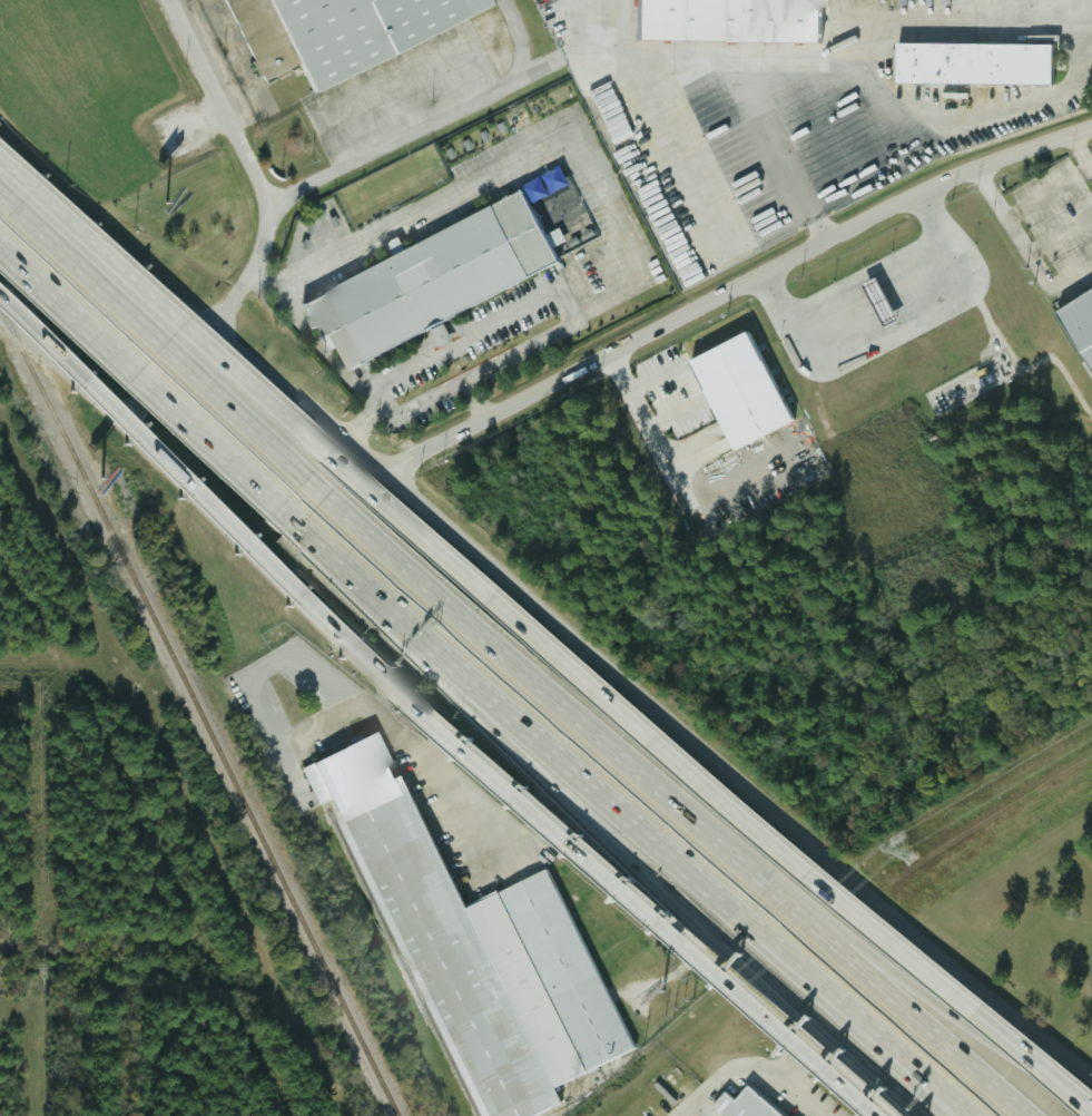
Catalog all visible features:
building: (938, 2)
road: (1082, 17)
building: (722, 20)
road: (609, 26)
building: (355, 30)
road: (517, 39)
building: (1091, 51)
road: (720, 52)
building: (971, 62)
road: (1051, 96)
road: (412, 130)
road: (779, 147)
road: (678, 154)
road: (1079, 154)
road: (1010, 215)
road: (264, 218)
parking lot: (1054, 225)
road: (1059, 234)
road: (1071, 276)
road: (267, 277)
building: (427, 281)
road: (731, 287)
road: (187, 301)
road: (892, 327)
building: (1076, 329)
road: (472, 331)
road: (153, 336)
road: (65, 361)
road: (142, 375)
building: (732, 392)
road: (475, 399)
road: (371, 402)
road: (357, 421)
road: (651, 430)
road: (338, 558)
road: (501, 599)
road: (278, 659)
railway: (198, 713)
road: (376, 717)
road: (426, 721)
road: (500, 771)
road: (731, 781)
road: (665, 797)
road: (472, 811)
power tower: (904, 854)
road: (679, 863)
road: (639, 870)
power plant: (96, 910)
railway: (391, 941)
building: (474, 950)
railway: (188, 975)
road: (937, 1001)
road: (848, 1021)
road: (794, 1057)
road: (1051, 1069)
road: (1051, 1071)
road: (724, 1076)
road: (806, 1094)
building: (740, 1105)
road: (696, 1110)

